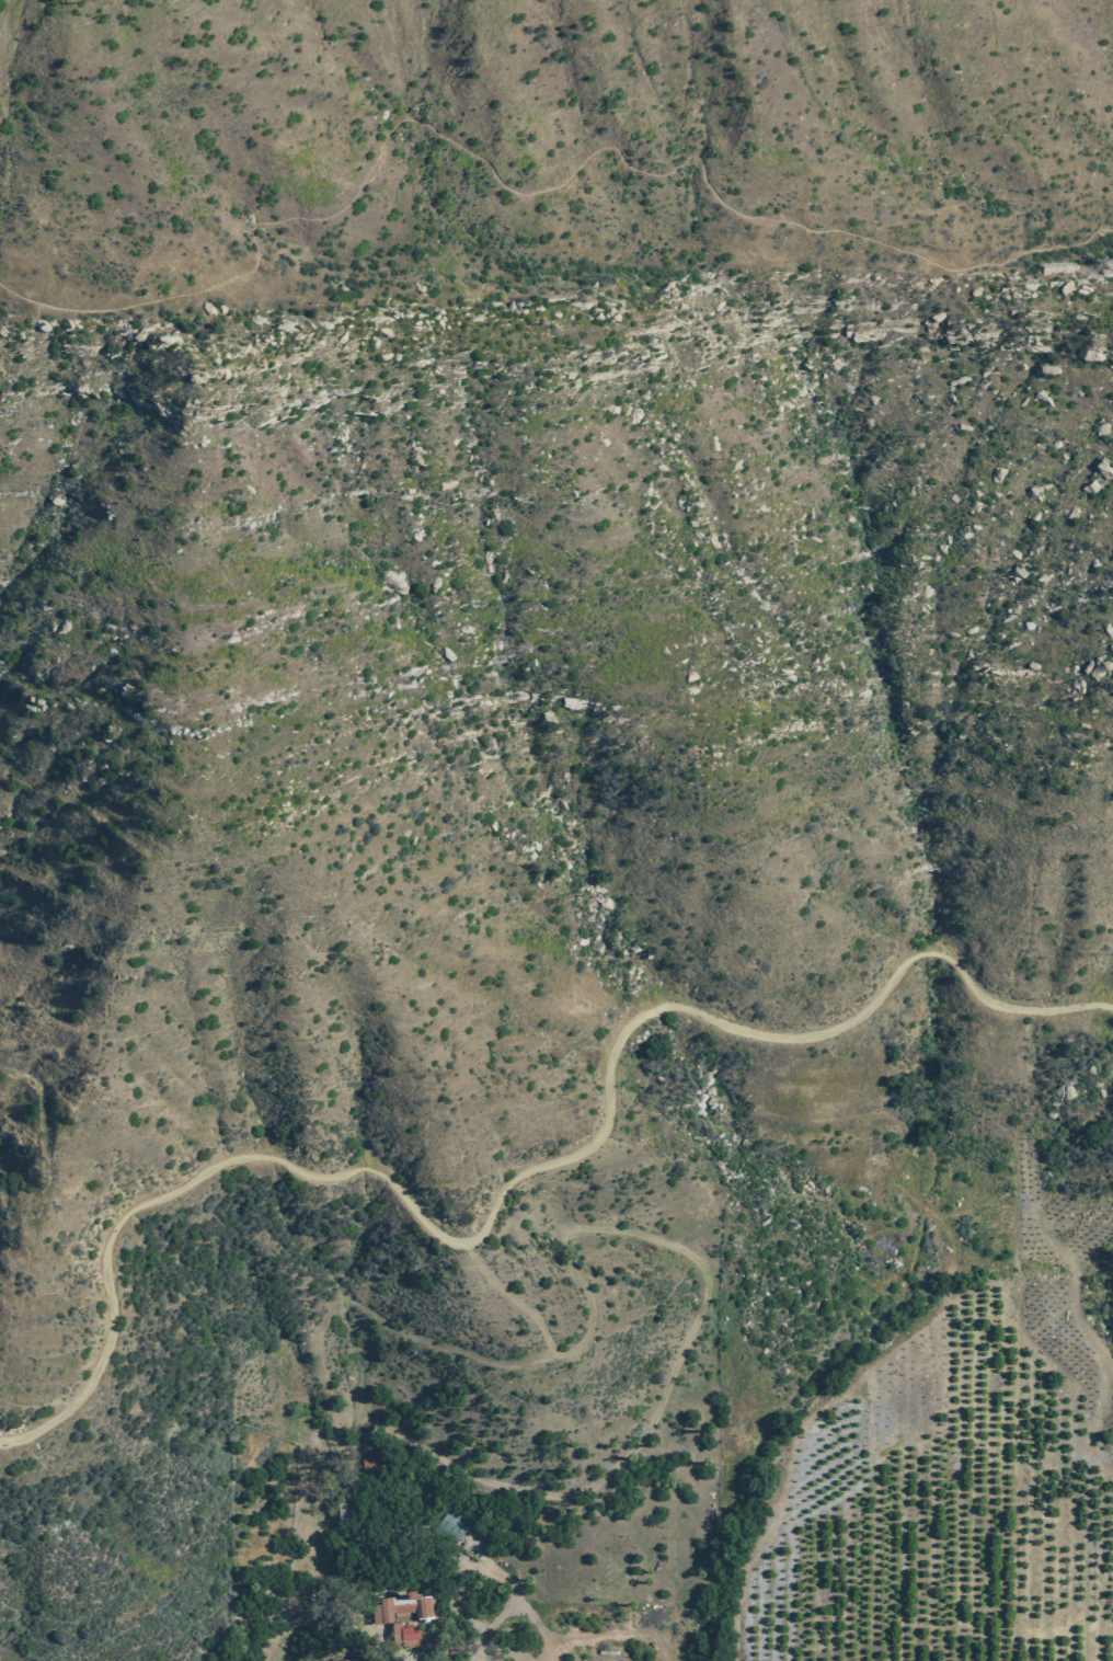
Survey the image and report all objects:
road: (529, 192)
road: (516, 1179)
road: (646, 1236)
road: (26, 1261)
road: (505, 1291)
building: (371, 1462)
building: (345, 1510)
building: (450, 1525)
road: (516, 1584)
building: (399, 1614)
road: (618, 1634)
road: (551, 1651)
building: (343, 1660)

